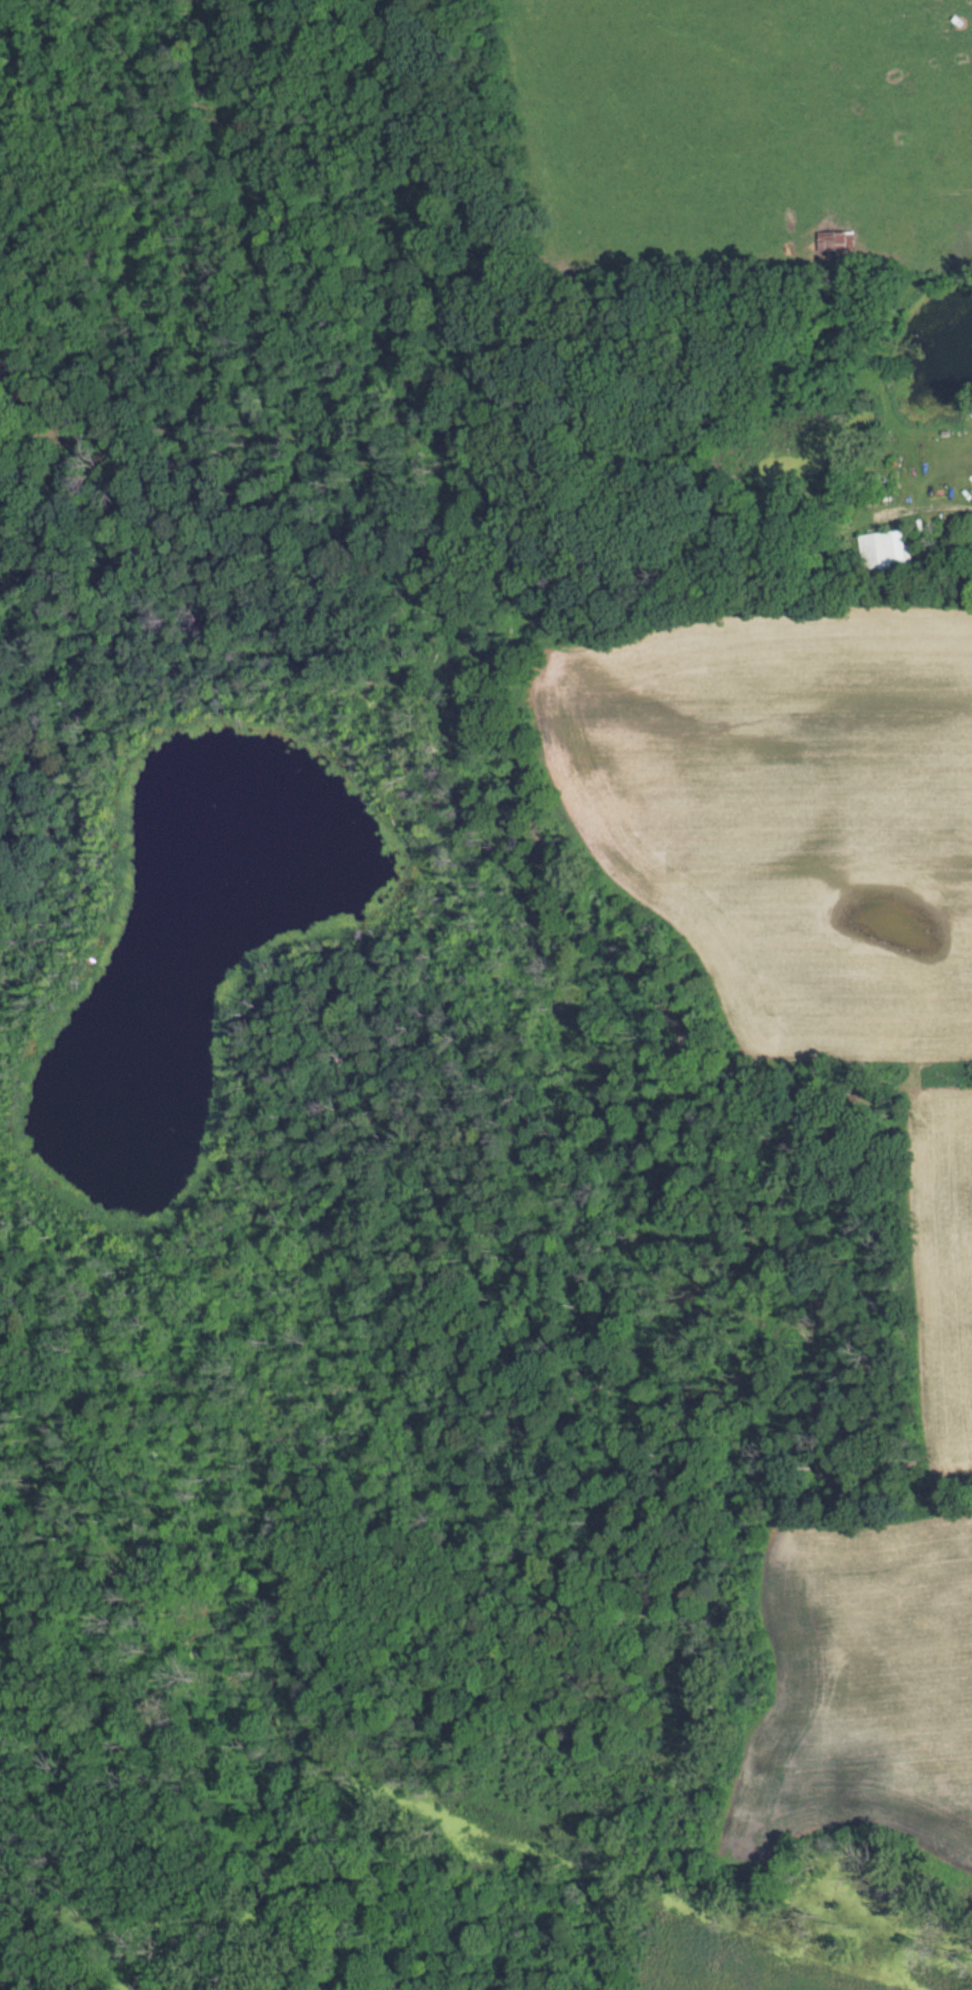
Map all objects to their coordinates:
building: (883, 549)

